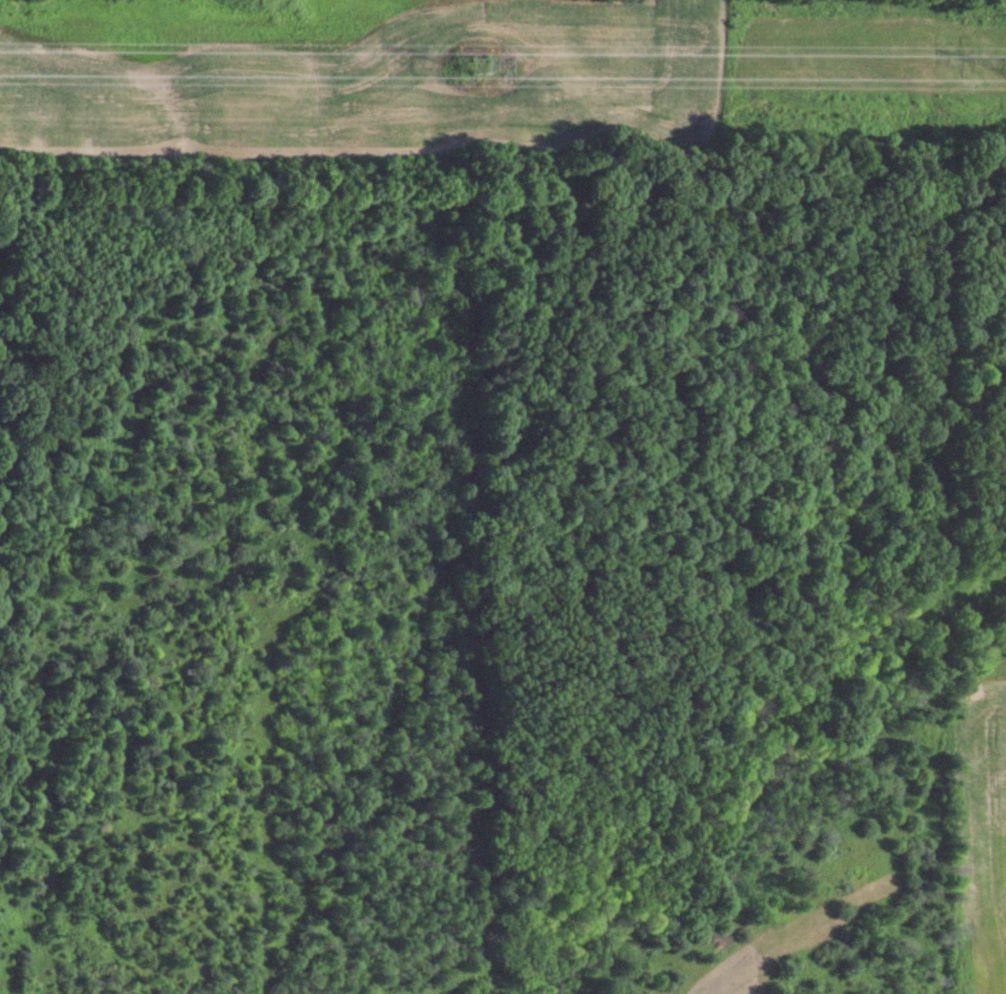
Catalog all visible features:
power tower: (481, 62)
crop: (979, 834)

